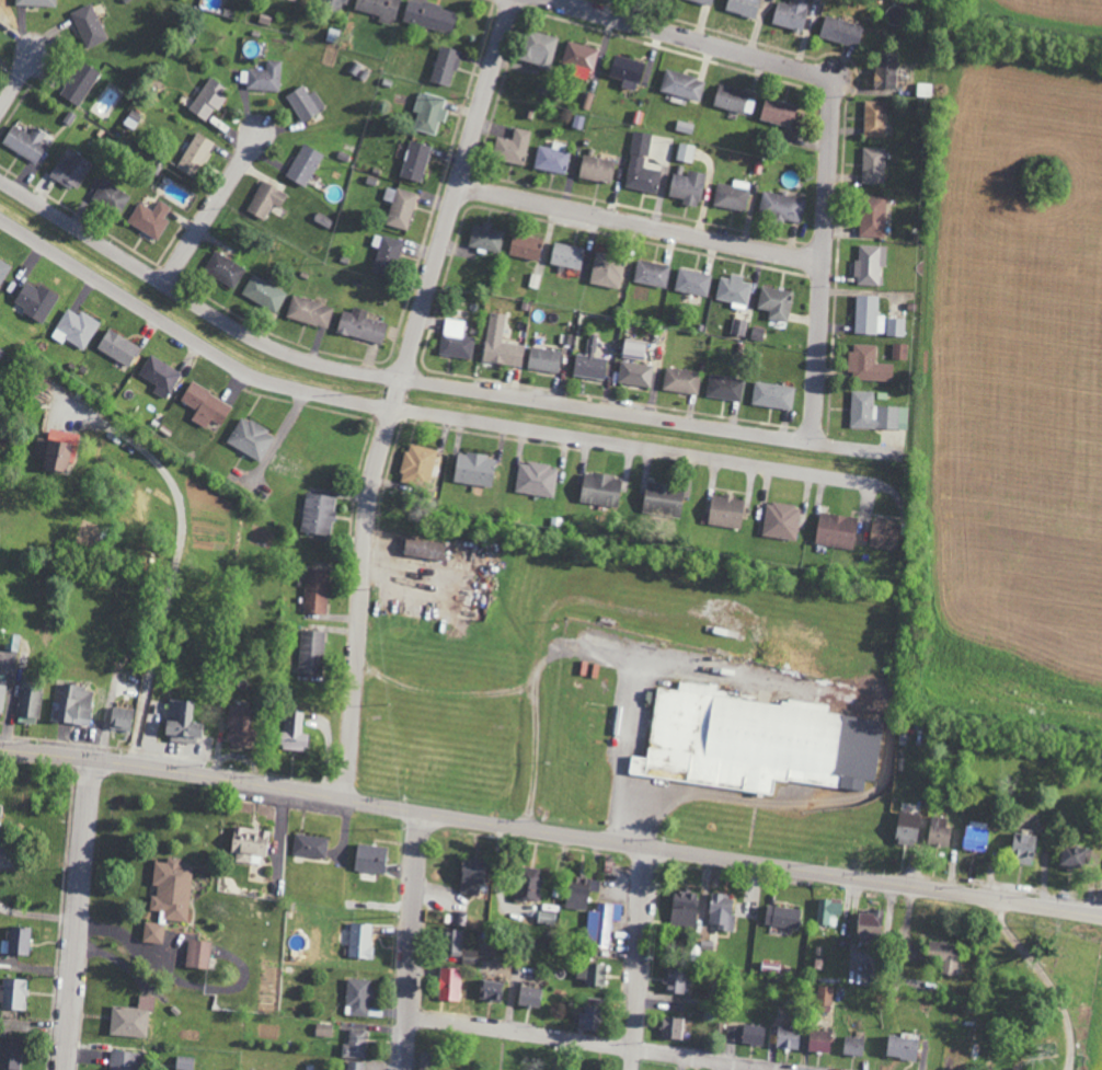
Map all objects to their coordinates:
building: (703, 1)
building: (35, 2)
building: (335, 4)
building: (742, 7)
building: (378, 9)
building: (791, 13)
building: (428, 15)
building: (0, 18)
building: (88, 25)
building: (840, 31)
building: (537, 48)
building: (578, 57)
building: (445, 65)
building: (884, 70)
building: (625, 71)
road: (20, 76)
building: (265, 77)
building: (79, 83)
building: (681, 84)
building: (208, 99)
building: (733, 99)
building: (586, 101)
building: (305, 102)
building: (777, 111)
building: (428, 112)
road: (835, 117)
building: (874, 118)
building: (133, 119)
building: (25, 142)
building: (640, 142)
building: (512, 147)
building: (685, 152)
building: (194, 154)
building: (552, 157)
building: (414, 161)
building: (303, 164)
building: (872, 165)
building: (596, 169)
building: (70, 171)
building: (641, 175)
building: (687, 187)
building: (111, 196)
building: (731, 196)
building: (265, 199)
road: (217, 203)
building: (399, 206)
building: (781, 206)
building: (872, 216)
building: (149, 218)
road: (642, 225)
building: (485, 237)
building: (525, 246)
building: (384, 253)
building: (566, 255)
building: (870, 264)
building: (2, 269)
building: (223, 269)
building: (606, 271)
building: (651, 273)
building: (691, 281)
building: (733, 290)
building: (263, 292)
building: (35, 301)
building: (774, 302)
building: (309, 311)
building: (868, 315)
building: (360, 325)
building: (895, 326)
building: (737, 327)
building: (74, 329)
building: (455, 340)
building: (500, 343)
building: (117, 347)
building: (632, 348)
building: (899, 352)
building: (543, 359)
building: (589, 363)
building: (866, 364)
building: (634, 373)
building: (159, 376)
road: (404, 379)
building: (680, 380)
building: (724, 387)
road: (399, 392)
building: (772, 395)
building: (205, 405)
road: (416, 410)
building: (874, 413)
building: (250, 438)
building: (54, 450)
building: (417, 463)
building: (473, 469)
building: (536, 479)
building: (599, 490)
building: (663, 498)
building: (724, 511)
building: (318, 514)
building: (780, 520)
building: (835, 530)
building: (883, 533)
building: (423, 549)
road: (169, 584)
building: (315, 591)
building: (311, 653)
road: (592, 655)
water tower: (583, 684)
building: (2, 689)
road: (444, 693)
building: (28, 704)
building: (73, 704)
building: (119, 718)
building: (181, 722)
building: (238, 726)
building: (292, 732)
building: (754, 741)
road: (525, 825)
building: (906, 828)
building: (938, 831)
building: (974, 836)
building: (250, 845)
building: (310, 845)
building: (1021, 848)
building: (1070, 856)
building: (370, 859)
building: (470, 877)
building: (528, 884)
building: (171, 889)
building: (578, 891)
building: (827, 909)
road: (1076, 909)
building: (684, 910)
road: (81, 912)
building: (721, 912)
building: (782, 917)
building: (547, 918)
building: (459, 919)
building: (601, 923)
building: (869, 924)
building: (152, 933)
building: (356, 940)
road: (414, 940)
building: (16, 941)
building: (457, 946)
building: (197, 954)
building: (943, 956)
road: (641, 957)
road: (1037, 968)
building: (590, 974)
building: (674, 981)
building: (448, 985)
building: (490, 991)
building: (12, 994)
building: (358, 997)
building: (529, 997)
building: (824, 999)
building: (131, 1019)
building: (588, 1019)
building: (670, 1028)
building: (323, 1029)
building: (753, 1035)
building: (787, 1037)
building: (817, 1042)
road: (594, 1043)
building: (354, 1044)
building: (852, 1046)
building: (900, 1048)
building: (9, 1055)
building: (122, 1060)
building: (184, 1063)
building: (353, 1066)

